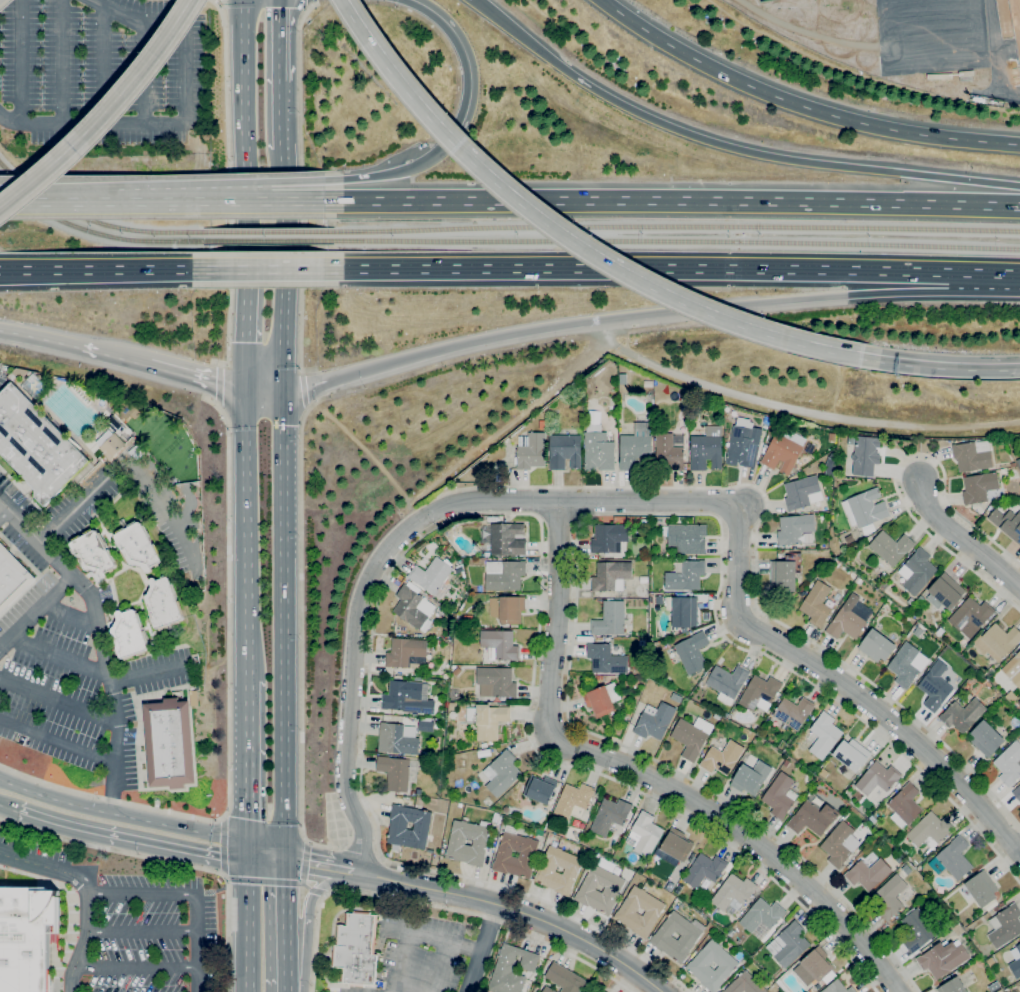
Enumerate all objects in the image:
road: (216, 1)
road: (311, 3)
stadium: (1015, 28)
road: (277, 40)
road: (22, 60)
road: (62, 60)
road: (103, 63)
road: (469, 70)
parking lot: (105, 71)
road: (143, 72)
building: (966, 72)
building: (979, 99)
road: (800, 105)
road: (244, 109)
road: (107, 114)
road: (277, 114)
road: (185, 119)
road: (728, 146)
traffic signals: (437, 154)
road: (381, 174)
road: (193, 184)
road: (226, 186)
road: (300, 193)
road: (194, 200)
road: (8, 201)
road: (41, 201)
road: (671, 201)
railway: (92, 222)
road: (277, 224)
railway: (672, 227)
railway: (262, 231)
road: (566, 232)
railway: (93, 233)
railway: (262, 240)
railway: (672, 242)
road: (671, 265)
road: (105, 269)
road: (266, 269)
road: (244, 305)
road: (646, 314)
road: (281, 344)
road: (72, 347)
road: (939, 365)
building: (622, 369)
building: (19, 373)
parking lot: (1, 374)
road: (194, 377)
building: (623, 379)
road: (218, 384)
road: (262, 390)
traffic signals: (281, 390)
road: (304, 390)
traffic signals: (243, 391)
building: (115, 424)
building: (851, 440)
building: (36, 445)
building: (166, 445)
building: (112, 446)
building: (743, 446)
building: (636, 448)
building: (598, 449)
building: (706, 449)
building: (531, 450)
building: (565, 451)
building: (784, 451)
building: (668, 452)
building: (865, 455)
building: (972, 455)
road: (128, 461)
building: (1018, 463)
building: (830, 466)
road: (895, 472)
building: (979, 487)
parking lot: (5, 488)
building: (802, 493)
road: (245, 502)
road: (189, 508)
building: (865, 508)
road: (5, 510)
road: (469, 515)
road: (579, 520)
building: (644, 522)
building: (1007, 523)
building: (794, 528)
building: (868, 528)
road: (403, 534)
building: (609, 537)
building: (686, 537)
building: (507, 539)
road: (963, 539)
building: (138, 547)
building: (891, 547)
building: (93, 553)
road: (754, 557)
building: (836, 563)
building: (917, 571)
building: (785, 573)
building: (431, 575)
building: (504, 575)
building: (685, 575)
building: (611, 576)
building: (11, 577)
building: (644, 579)
building: (945, 592)
parking lot: (46, 598)
building: (919, 600)
building: (163, 604)
building: (817, 604)
building: (414, 608)
building: (507, 609)
road: (38, 611)
building: (440, 611)
building: (684, 612)
building: (971, 617)
building: (467, 618)
building: (610, 618)
building: (847, 620)
road: (284, 623)
building: (129, 634)
building: (419, 634)
road: (100, 637)
building: (997, 641)
building: (438, 642)
building: (500, 644)
building: (877, 646)
road: (248, 648)
road: (301, 651)
building: (692, 652)
building: (407, 653)
road: (62, 656)
building: (607, 658)
building: (905, 665)
building: (1013, 669)
road: (141, 671)
building: (989, 672)
building: (496, 682)
building: (727, 682)
road: (844, 686)
building: (935, 686)
building: (760, 692)
building: (403, 696)
building: (1011, 696)
road: (56, 698)
building: (602, 699)
parking lot: (77, 703)
building: (452, 706)
building: (792, 712)
building: (962, 714)
building: (717, 716)
road: (228, 717)
building: (487, 720)
building: (655, 722)
building: (824, 735)
building: (689, 738)
building: (986, 738)
building: (398, 739)
road: (59, 741)
building: (169, 743)
building: (851, 754)
building: (722, 758)
building: (786, 763)
building: (1009, 763)
road: (248, 767)
building: (395, 772)
building: (501, 773)
building: (751, 777)
building: (877, 778)
road: (647, 781)
building: (540, 788)
building: (1016, 792)
building: (780, 796)
building: (573, 801)
road: (3, 805)
building: (905, 806)
building: (610, 815)
road: (124, 816)
building: (813, 818)
building: (398, 826)
building: (930, 830)
building: (644, 834)
road: (126, 838)
building: (457, 842)
building: (840, 844)
road: (224, 846)
building: (674, 847)
traffic signals: (249, 851)
road: (268, 853)
building: (527, 854)
traffic signals: (287, 856)
building: (955, 858)
road: (168, 861)
road: (304, 861)
road: (32, 863)
road: (324, 863)
building: (704, 870)
building: (547, 872)
building: (868, 874)
road: (277, 881)
building: (982, 888)
building: (587, 890)
road: (143, 893)
building: (733, 893)
building: (890, 897)
road: (437, 906)
road: (517, 911)
building: (627, 914)
road: (310, 915)
building: (761, 915)
parking lot: (130, 921)
road: (248, 921)
road: (278, 923)
building: (1005, 926)
road: (89, 927)
building: (917, 929)
building: (958, 929)
road: (142, 931)
building: (26, 937)
road: (430, 938)
building: (662, 938)
road: (196, 942)
building: (789, 944)
road: (472, 945)
road: (486, 948)
building: (357, 950)
parking lot: (425, 957)
building: (943, 958)
building: (990, 961)
building: (1015, 961)
building: (698, 964)
building: (814, 966)
road: (136, 967)
building: (512, 969)
building: (565, 978)
building: (745, 984)
building: (952, 986)
building: (838, 987)
building: (548, 990)
building: (812, 990)
building: (586, 991)
building: (602, 991)
building: (605, 991)

